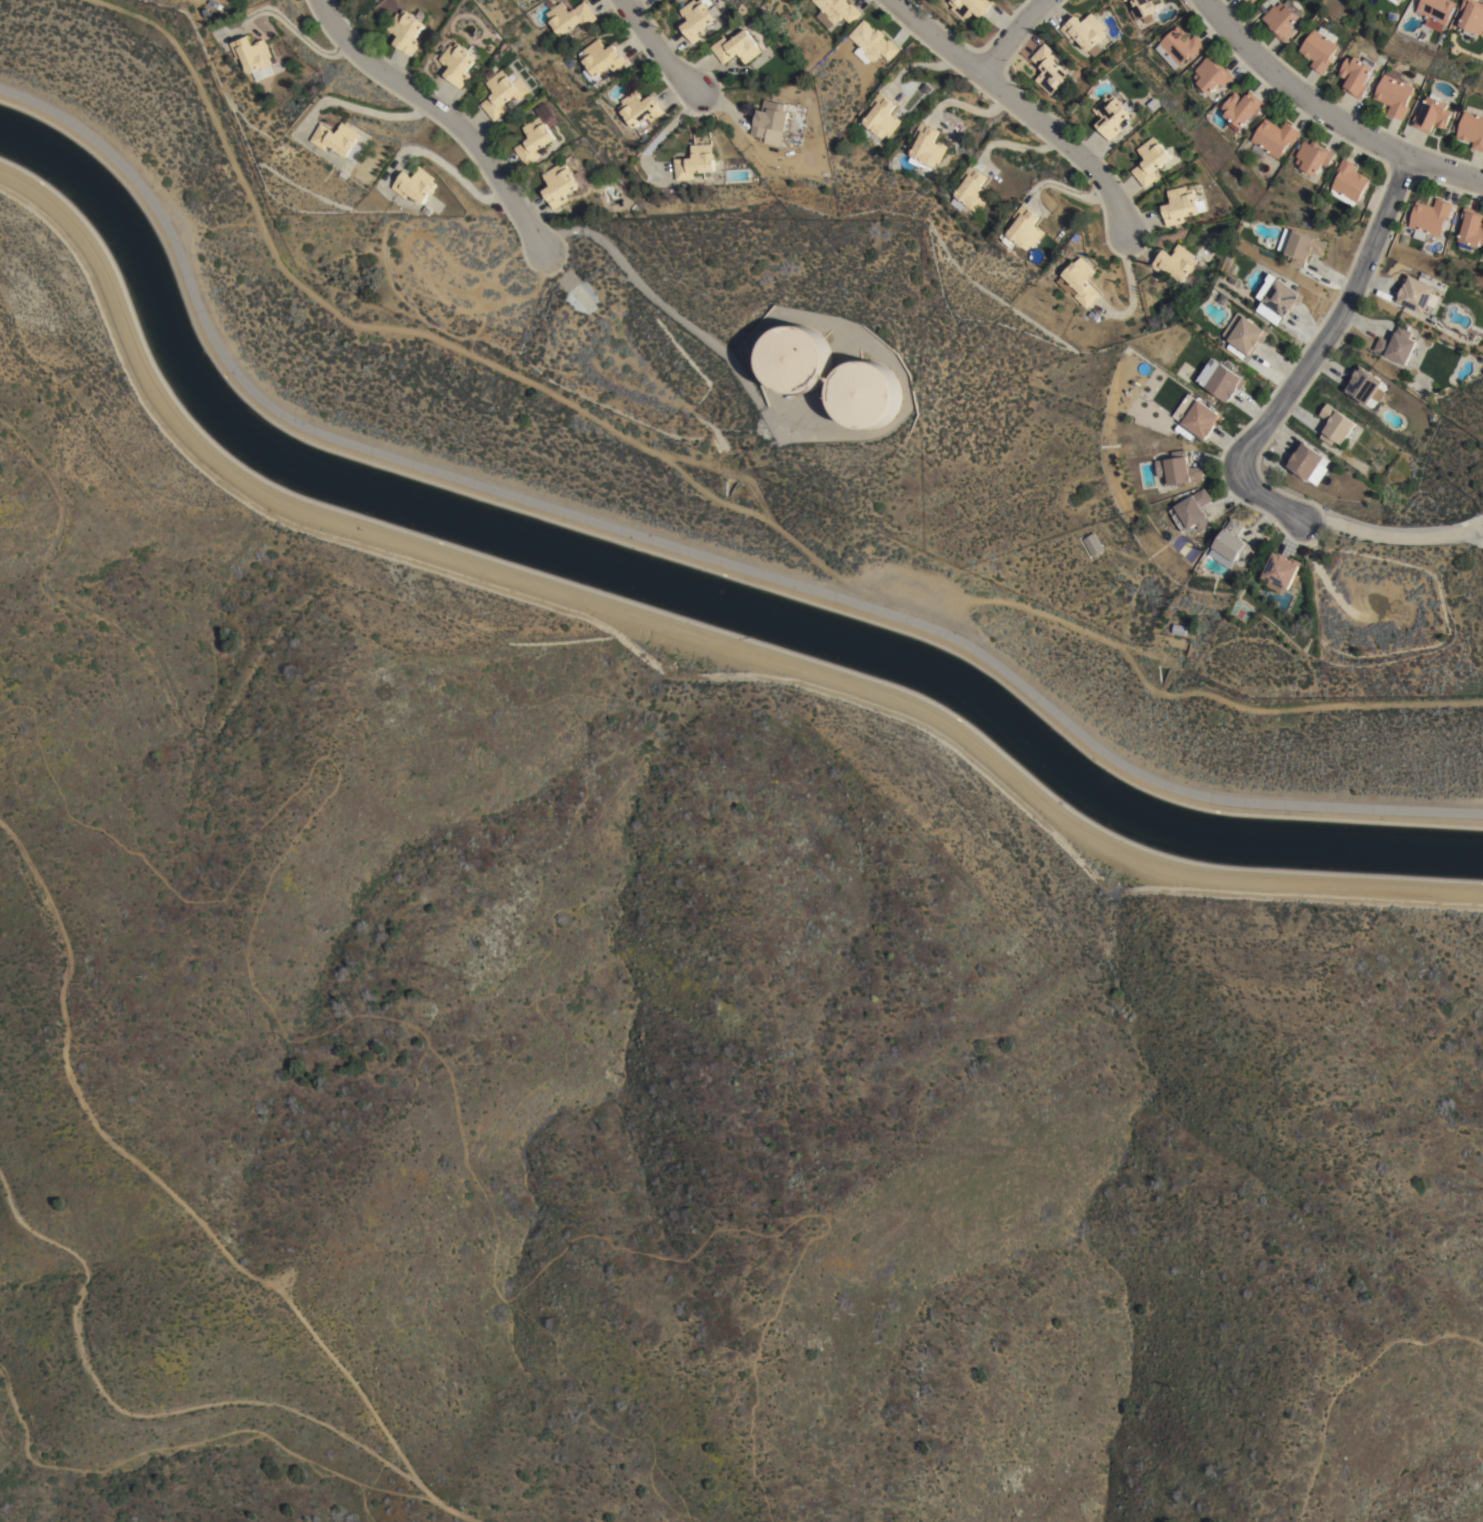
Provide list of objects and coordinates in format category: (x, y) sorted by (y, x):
building: (1123, 0)
building: (1394, 1)
building: (1248, 2)
building: (1147, 6)
building: (970, 7)
building: (837, 11)
building: (1436, 12)
building: (1135, 14)
building: (1472, 15)
building: (569, 16)
building: (700, 17)
building: (1147, 18)
building: (1281, 21)
road: (289, 24)
building: (408, 30)
road: (1010, 32)
building: (1085, 32)
building: (871, 42)
building: (1178, 46)
building: (738, 47)
road: (656, 48)
building: (1319, 48)
building: (253, 56)
building: (599, 59)
building: (460, 60)
building: (1050, 68)
building: (1355, 75)
building: (1211, 76)
building: (504, 92)
building: (1394, 92)
building: (1156, 104)
road: (1024, 106)
road: (358, 108)
building: (1241, 108)
building: (638, 109)
road: (442, 113)
building: (1114, 114)
road: (1327, 114)
building: (1432, 114)
building: (772, 119)
building: (878, 120)
building: (1472, 130)
building: (538, 134)
building: (701, 138)
building: (1273, 138)
building: (339, 141)
building: (927, 145)
building: (1313, 157)
building: (1153, 161)
building: (694, 162)
building: (1348, 181)
building: (562, 184)
building: (417, 185)
building: (971, 190)
building: (1182, 206)
building: (427, 210)
building: (1429, 218)
building: (1471, 228)
building: (1023, 229)
building: (1300, 246)
building: (1176, 264)
building: (1080, 283)
building: (1268, 286)
building: (1418, 295)
building: (1282, 298)
building: (1270, 314)
building: (1244, 334)
building: (1398, 347)
road: (1313, 355)
building: (798, 358)
building: (1224, 384)
building: (1365, 388)
building: (867, 393)
building: (1197, 418)
building: (1336, 427)
building: (1309, 464)
building: (1177, 472)
building: (1192, 512)
road: (1475, 528)
road: (1386, 532)
building: (1093, 545)
building: (1230, 546)
road: (679, 548)
building: (1282, 570)
road: (677, 630)
building: (1179, 631)
road: (193, 1203)

